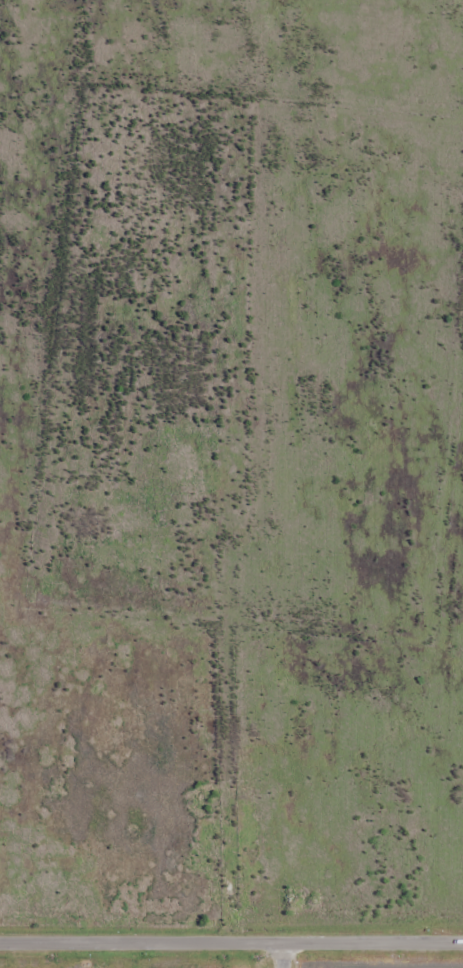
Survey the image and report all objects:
road: (231, 942)
road: (283, 955)
airport: (338, 967)

